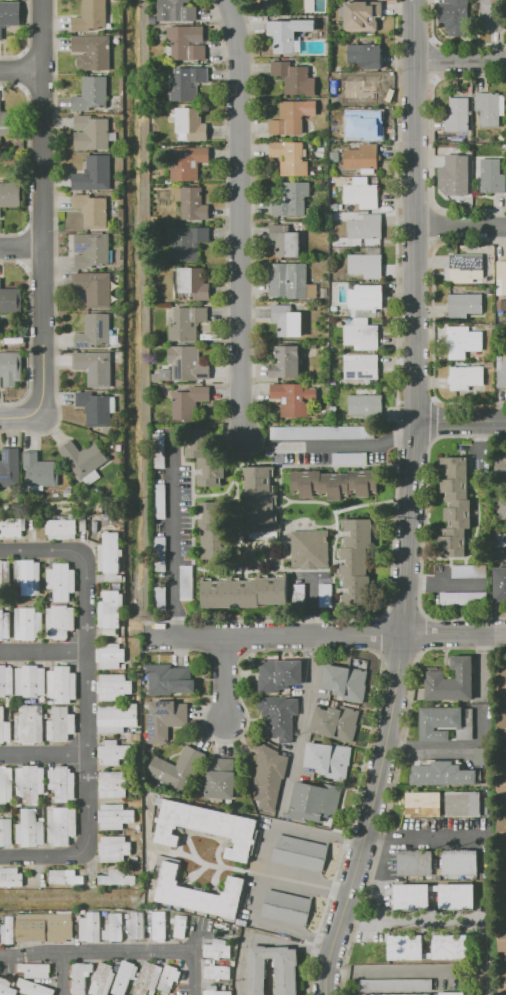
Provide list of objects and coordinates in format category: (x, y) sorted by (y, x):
building: (307, 5)
building: (317, 6)
building: (176, 10)
building: (10, 14)
building: (362, 15)
building: (92, 16)
building: (458, 16)
building: (492, 16)
building: (153, 19)
building: (288, 34)
building: (118, 40)
road: (433, 41)
building: (186, 42)
road: (449, 43)
building: (93, 52)
building: (365, 55)
road: (461, 59)
road: (432, 60)
road: (21, 71)
building: (295, 77)
road: (434, 79)
building: (188, 83)
building: (361, 88)
building: (91, 94)
building: (336, 99)
building: (490, 108)
building: (458, 114)
building: (290, 117)
building: (9, 122)
building: (192, 123)
building: (362, 125)
building: (92, 133)
building: (336, 135)
building: (502, 136)
road: (432, 142)
building: (335, 156)
building: (363, 156)
building: (290, 157)
building: (186, 162)
building: (458, 170)
building: (94, 173)
building: (492, 175)
building: (361, 193)
building: (11, 194)
building: (292, 199)
building: (193, 204)
road: (43, 207)
building: (333, 207)
building: (92, 210)
road: (240, 216)
building: (365, 225)
road: (432, 226)
road: (461, 226)
building: (285, 240)
building: (189, 242)
road: (22, 246)
building: (91, 250)
building: (367, 263)
building: (467, 266)
building: (502, 274)
building: (290, 281)
building: (191, 284)
building: (94, 287)
building: (366, 299)
building: (10, 300)
building: (464, 304)
building: (334, 308)
building: (343, 309)
building: (287, 320)
road: (432, 321)
building: (187, 322)
building: (94, 330)
building: (362, 334)
building: (463, 340)
building: (312, 346)
building: (287, 362)
building: (187, 363)
building: (489, 364)
building: (362, 366)
building: (95, 367)
building: (10, 369)
building: (501, 370)
building: (165, 374)
building: (465, 377)
building: (155, 378)
building: (334, 383)
building: (293, 398)
building: (189, 402)
building: (367, 405)
building: (97, 407)
road: (22, 416)
road: (435, 419)
road: (461, 420)
building: (323, 432)
road: (352, 445)
building: (119, 447)
building: (159, 450)
building: (200, 453)
building: (350, 458)
building: (84, 460)
building: (502, 466)
building: (10, 468)
building: (40, 471)
building: (334, 483)
building: (68, 492)
building: (159, 501)
building: (261, 502)
road: (411, 502)
building: (455, 506)
building: (502, 507)
building: (82, 524)
building: (12, 526)
building: (210, 527)
building: (62, 528)
road: (422, 531)
building: (500, 540)
road: (175, 542)
building: (310, 549)
building: (109, 553)
building: (159, 553)
building: (355, 563)
building: (470, 571)
building: (1, 573)
building: (28, 576)
building: (114, 577)
building: (61, 581)
building: (187, 582)
building: (500, 584)
building: (242, 591)
building: (298, 592)
building: (325, 595)
building: (159, 596)
building: (49, 597)
building: (464, 598)
building: (9, 607)
building: (110, 611)
building: (60, 620)
building: (5, 622)
building: (29, 623)
road: (423, 631)
road: (330, 636)
building: (122, 640)
road: (43, 650)
building: (110, 655)
building: (124, 666)
building: (279, 674)
road: (224, 678)
building: (170, 679)
building: (6, 680)
building: (502, 680)
building: (30, 681)
building: (451, 681)
building: (345, 682)
building: (62, 684)
building: (114, 687)
building: (138, 697)
building: (20, 700)
building: (9, 701)
building: (33, 701)
building: (51, 701)
road: (504, 702)
building: (9, 704)
road: (87, 704)
building: (47, 715)
building: (117, 716)
building: (279, 716)
building: (165, 718)
building: (439, 721)
building: (336, 723)
building: (30, 724)
building: (61, 724)
building: (502, 725)
building: (466, 726)
building: (5, 728)
building: (139, 730)
building: (130, 737)
building: (137, 737)
building: (114, 752)
road: (43, 753)
building: (479, 755)
building: (328, 759)
building: (178, 768)
building: (443, 772)
building: (269, 776)
building: (221, 779)
building: (30, 782)
road: (394, 782)
building: (62, 783)
building: (6, 784)
building: (113, 784)
building: (502, 785)
building: (51, 795)
building: (315, 799)
building: (464, 803)
building: (20, 804)
building: (424, 804)
road: (504, 807)
building: (115, 816)
building: (61, 825)
building: (204, 826)
building: (138, 827)
building: (30, 828)
building: (502, 828)
building: (5, 832)
road: (318, 834)
road: (423, 835)
building: (114, 848)
building: (300, 852)
building: (135, 859)
building: (460, 862)
building: (415, 863)
building: (10, 876)
building: (65, 877)
road: (263, 877)
building: (117, 878)
road: (305, 883)
building: (43, 885)
building: (201, 894)
building: (412, 896)
building: (457, 896)
building: (153, 907)
building: (286, 907)
building: (105, 913)
building: (84, 914)
building: (127, 916)
building: (172, 920)
road: (407, 923)
building: (136, 925)
building: (159, 925)
building: (180, 925)
building: (45, 926)
building: (91, 927)
building: (114, 927)
building: (8, 930)
road: (298, 935)
road: (258, 936)
building: (503, 940)
building: (405, 943)
building: (217, 949)
road: (97, 951)
road: (504, 961)
building: (35, 970)
road: (418, 970)
road: (195, 972)
building: (217, 972)
road: (65, 973)
building: (287, 975)
building: (80, 977)
building: (124, 977)
building: (169, 977)
building: (148, 978)
building: (102, 979)
building: (504, 980)
building: (13, 983)
building: (396, 985)
building: (6, 987)
building: (34, 988)
building: (215, 991)
building: (452, 993)
building: (23, 994)
building: (150, 994)
building: (171, 994)
building: (395, 994)

